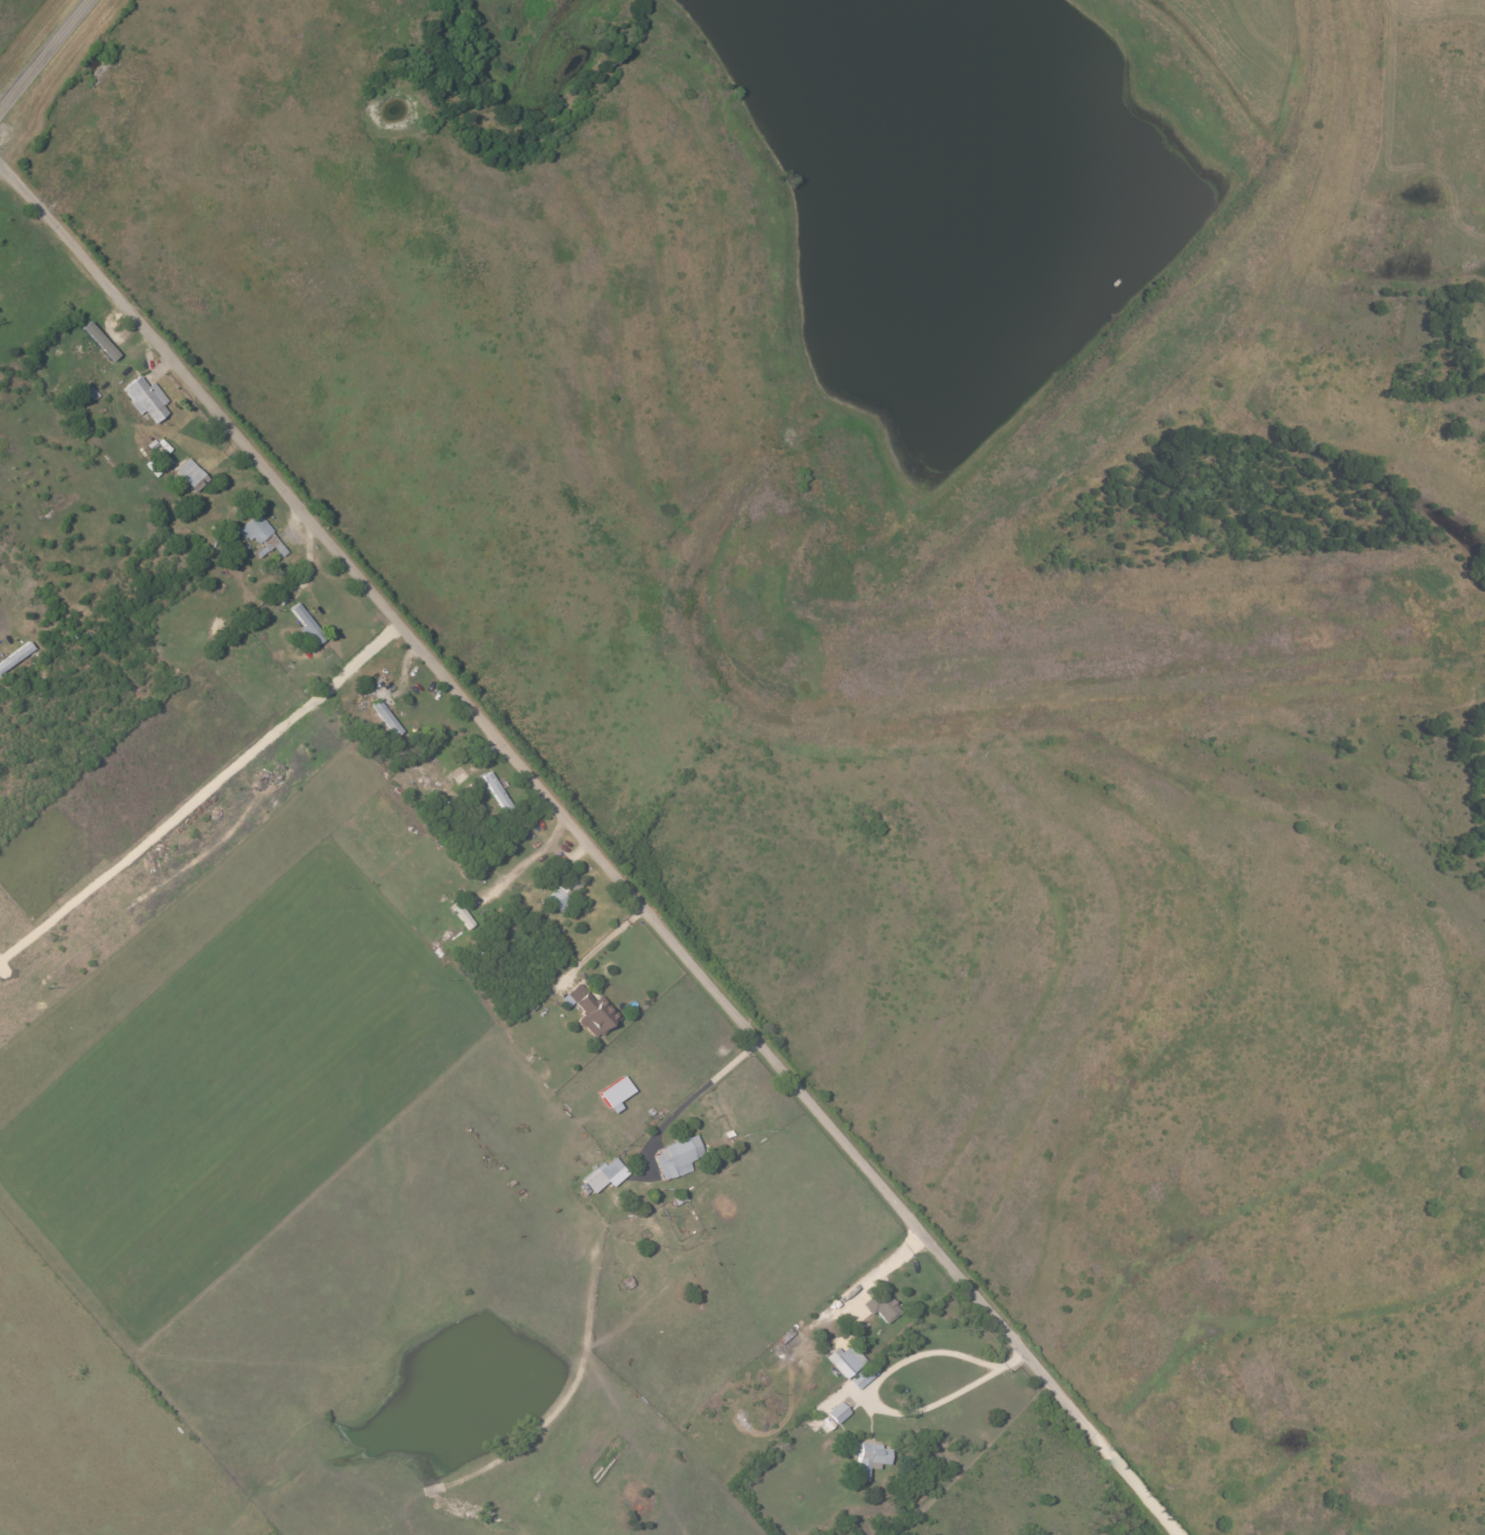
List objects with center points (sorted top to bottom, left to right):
road: (45, 56)
road: (91, 66)
road: (252, 153)
dam: (1140, 336)
building: (101, 340)
building: (146, 398)
building: (192, 474)
building: (260, 535)
building: (308, 625)
building: (386, 718)
road: (481, 754)
building: (497, 793)
road: (591, 849)
road: (524, 862)
building: (564, 893)
building: (462, 915)
road: (604, 940)
building: (590, 1010)
building: (617, 1092)
road: (687, 1101)
building: (677, 1157)
building: (604, 1175)
building: (882, 1305)
building: (845, 1360)
road: (873, 1383)
building: (835, 1409)
building: (870, 1458)

